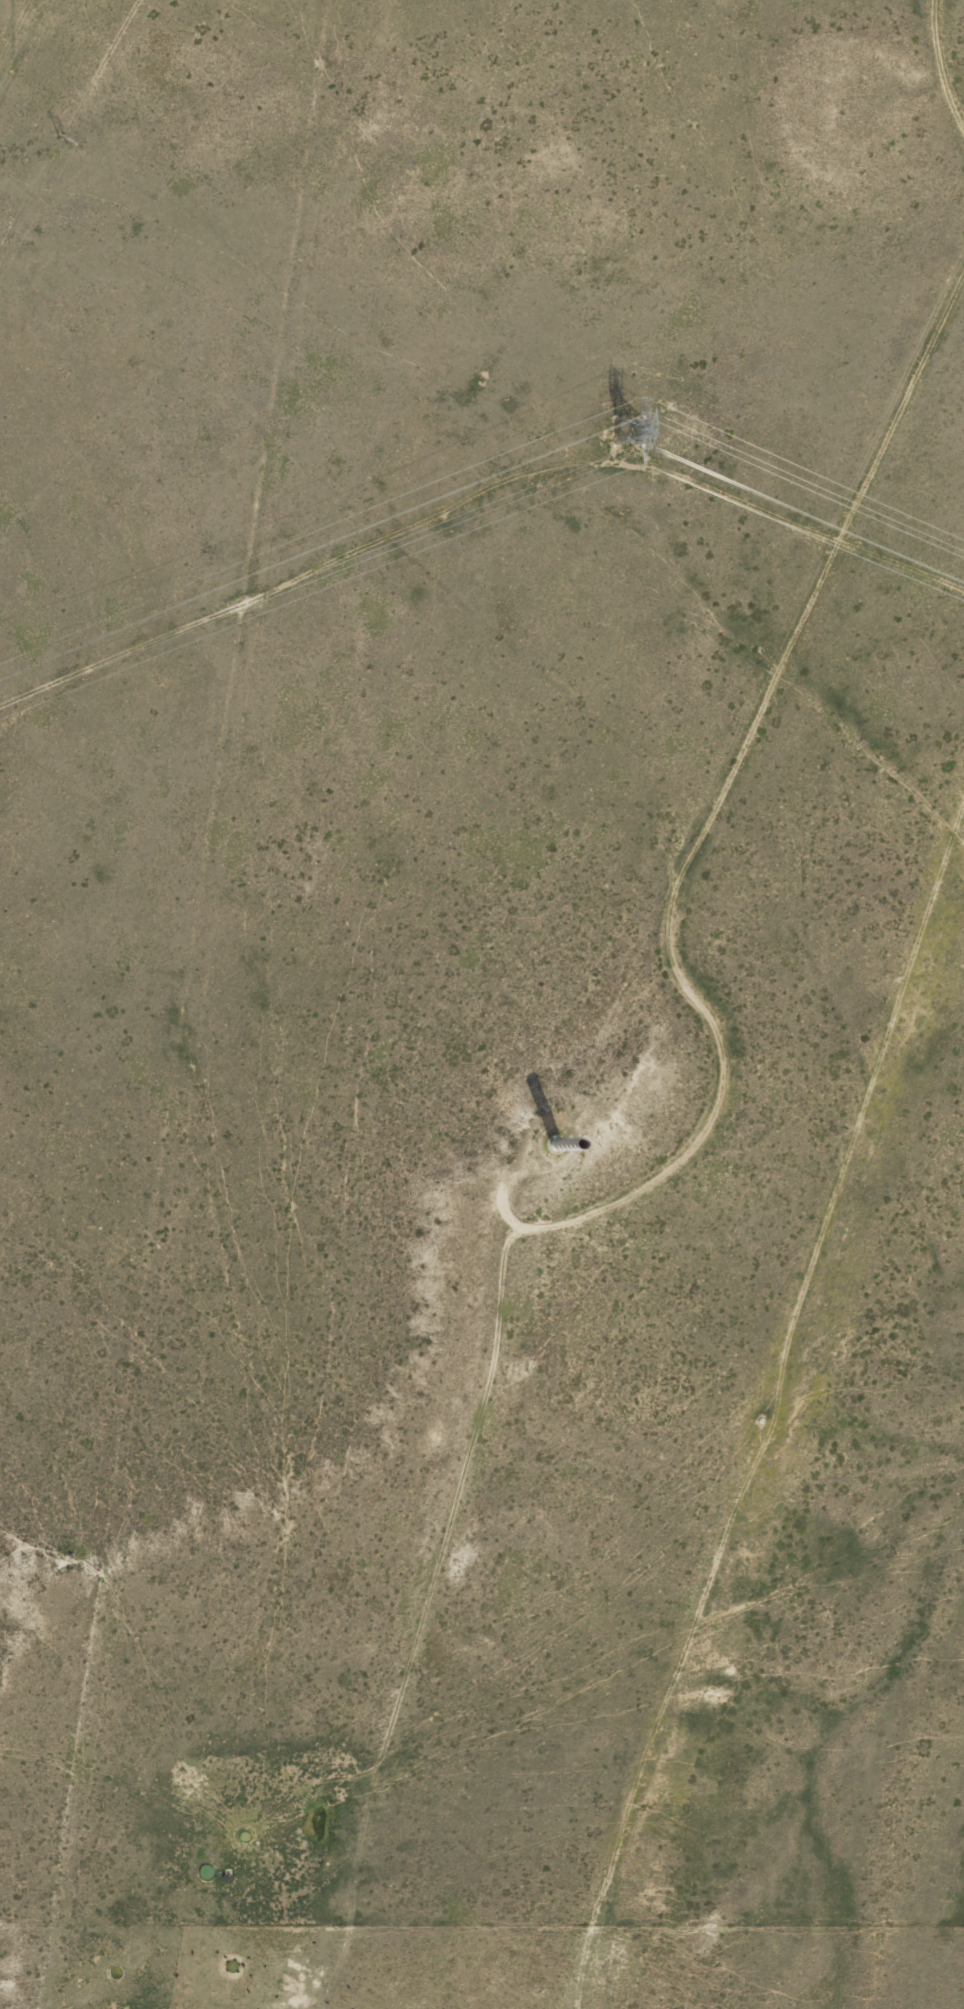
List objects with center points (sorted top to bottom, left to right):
road: (16, 18)
power tower: (59, 141)
road: (956, 168)
power tower: (627, 430)
road: (728, 693)
chimney: (548, 1146)
road: (66, 1969)

